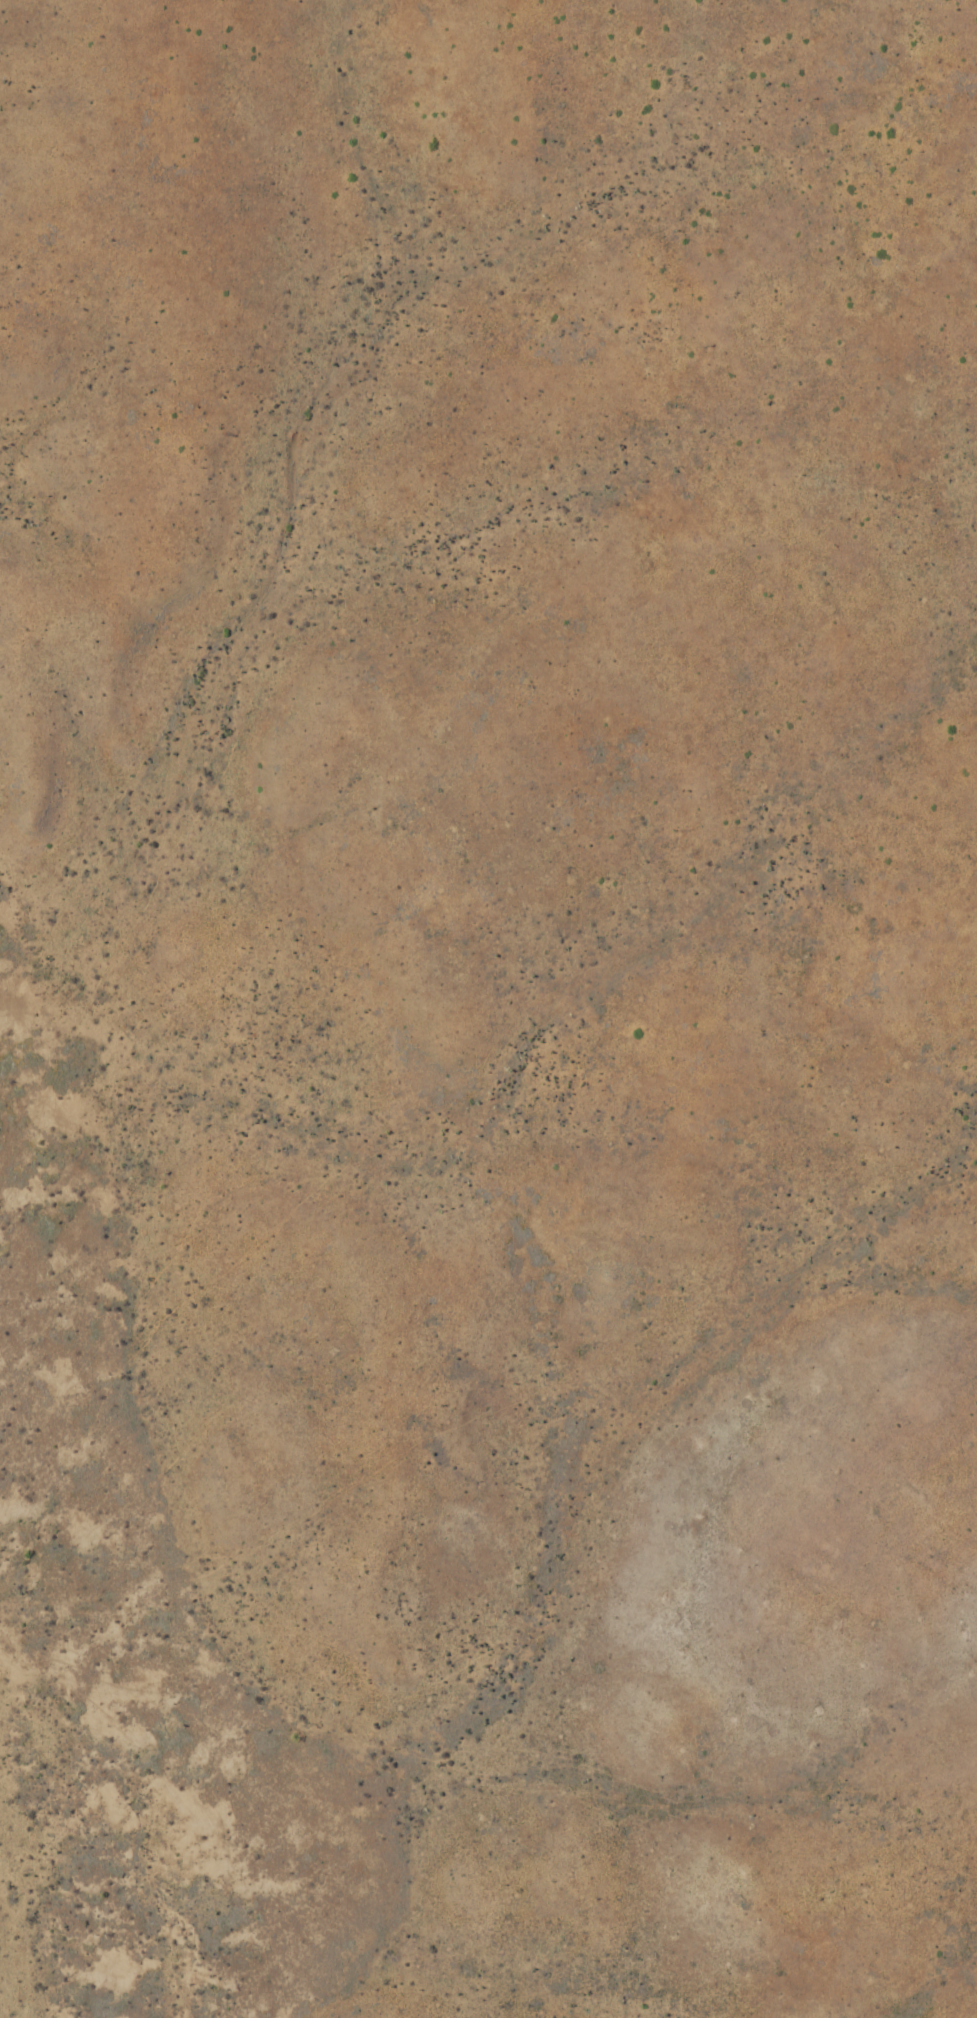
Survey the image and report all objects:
river: (158, 1592)

